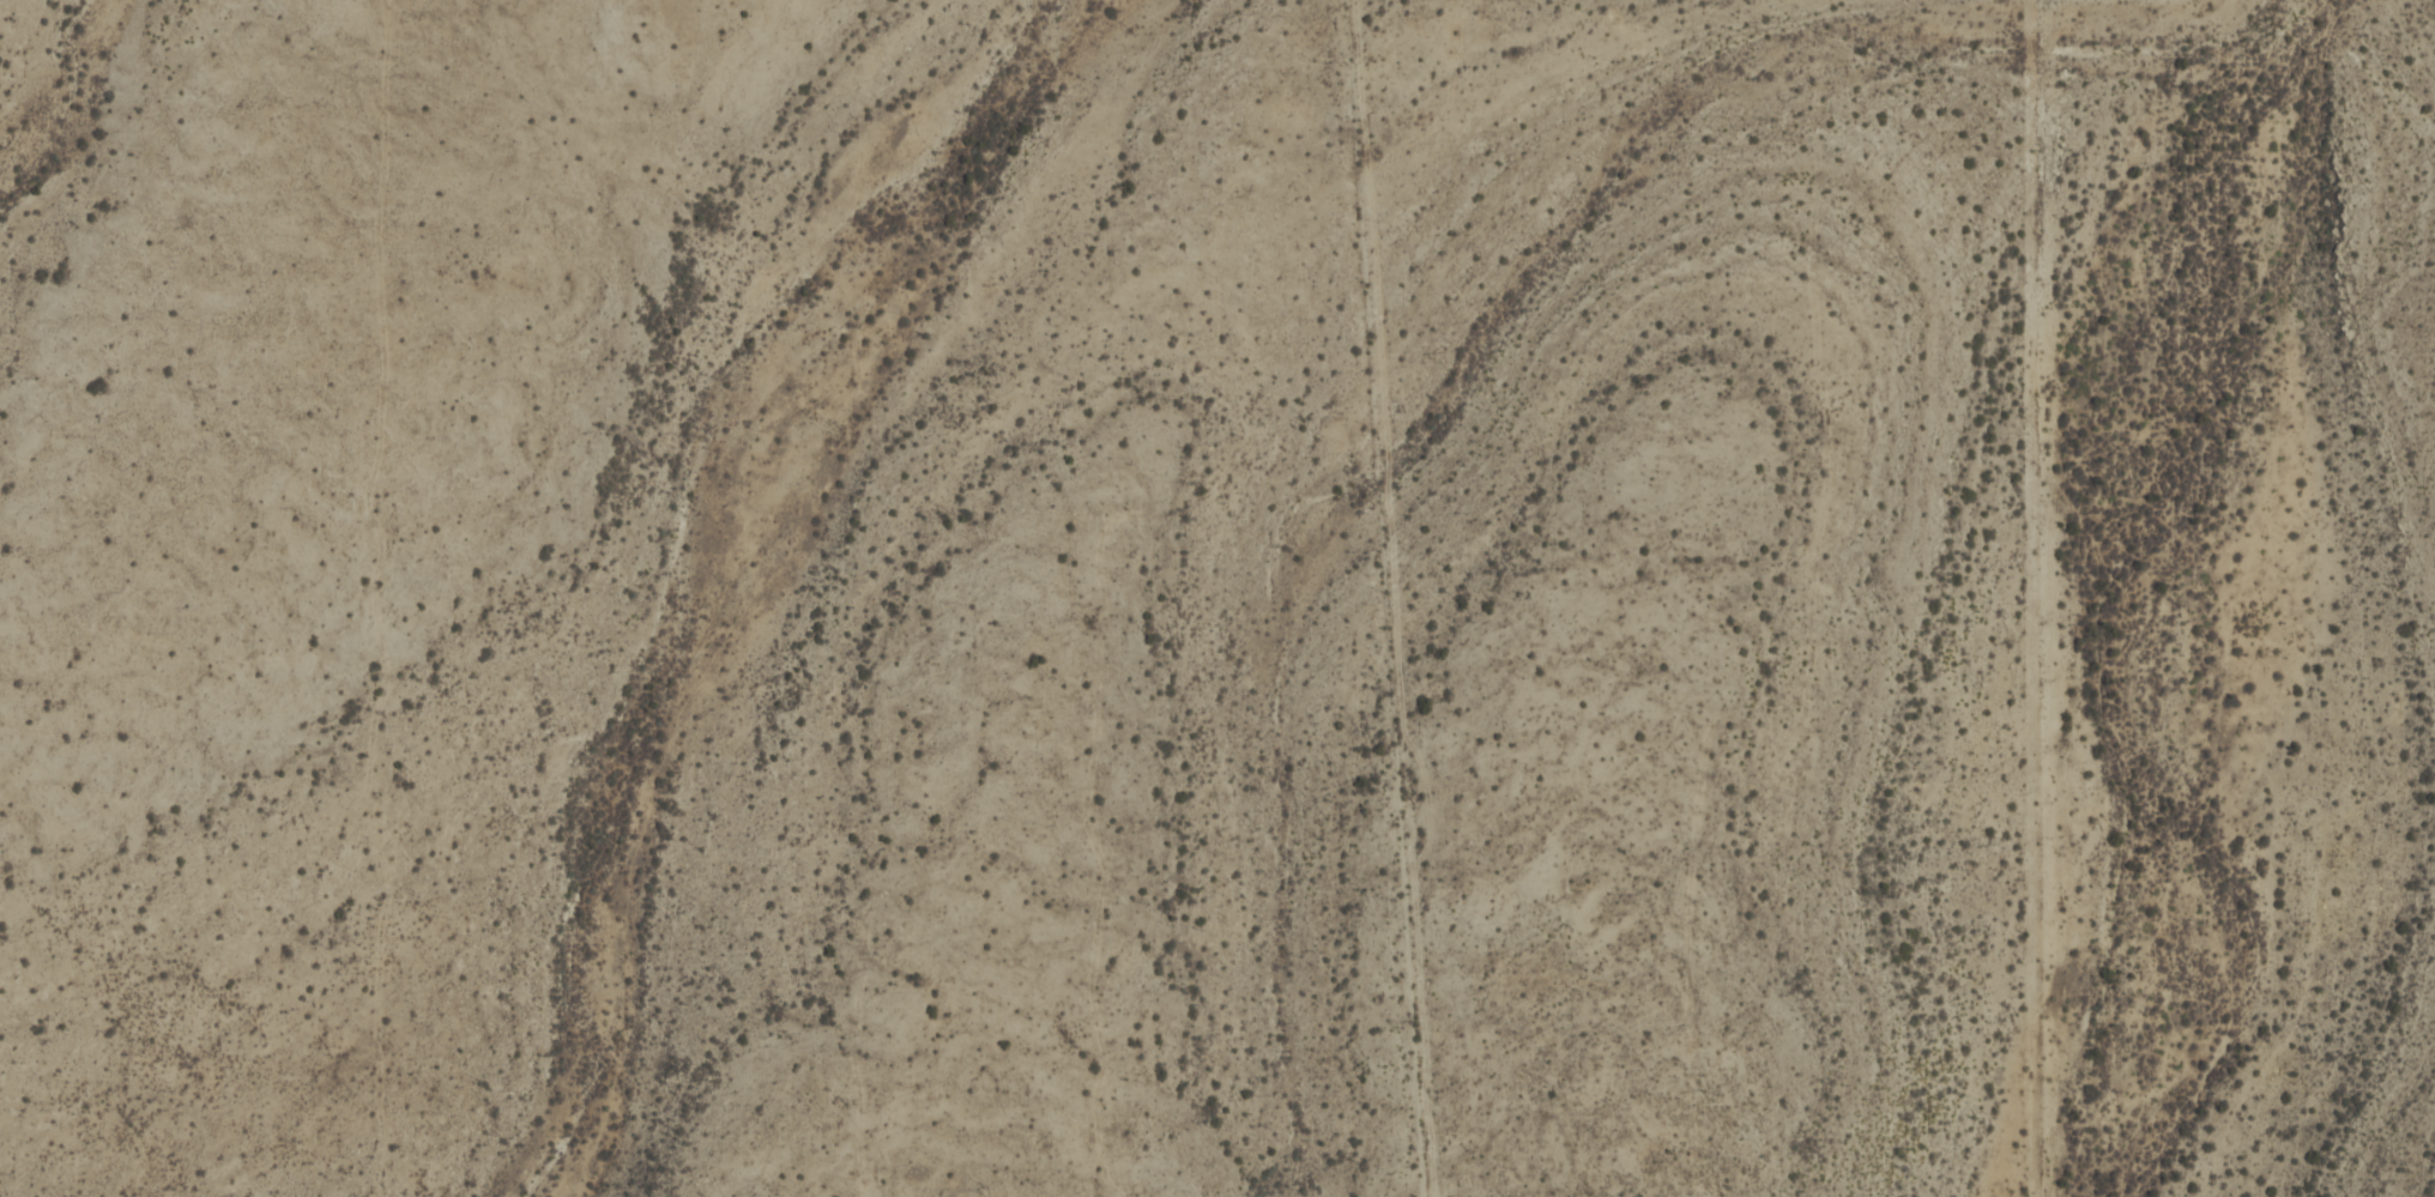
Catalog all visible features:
park: (2226, 596)

